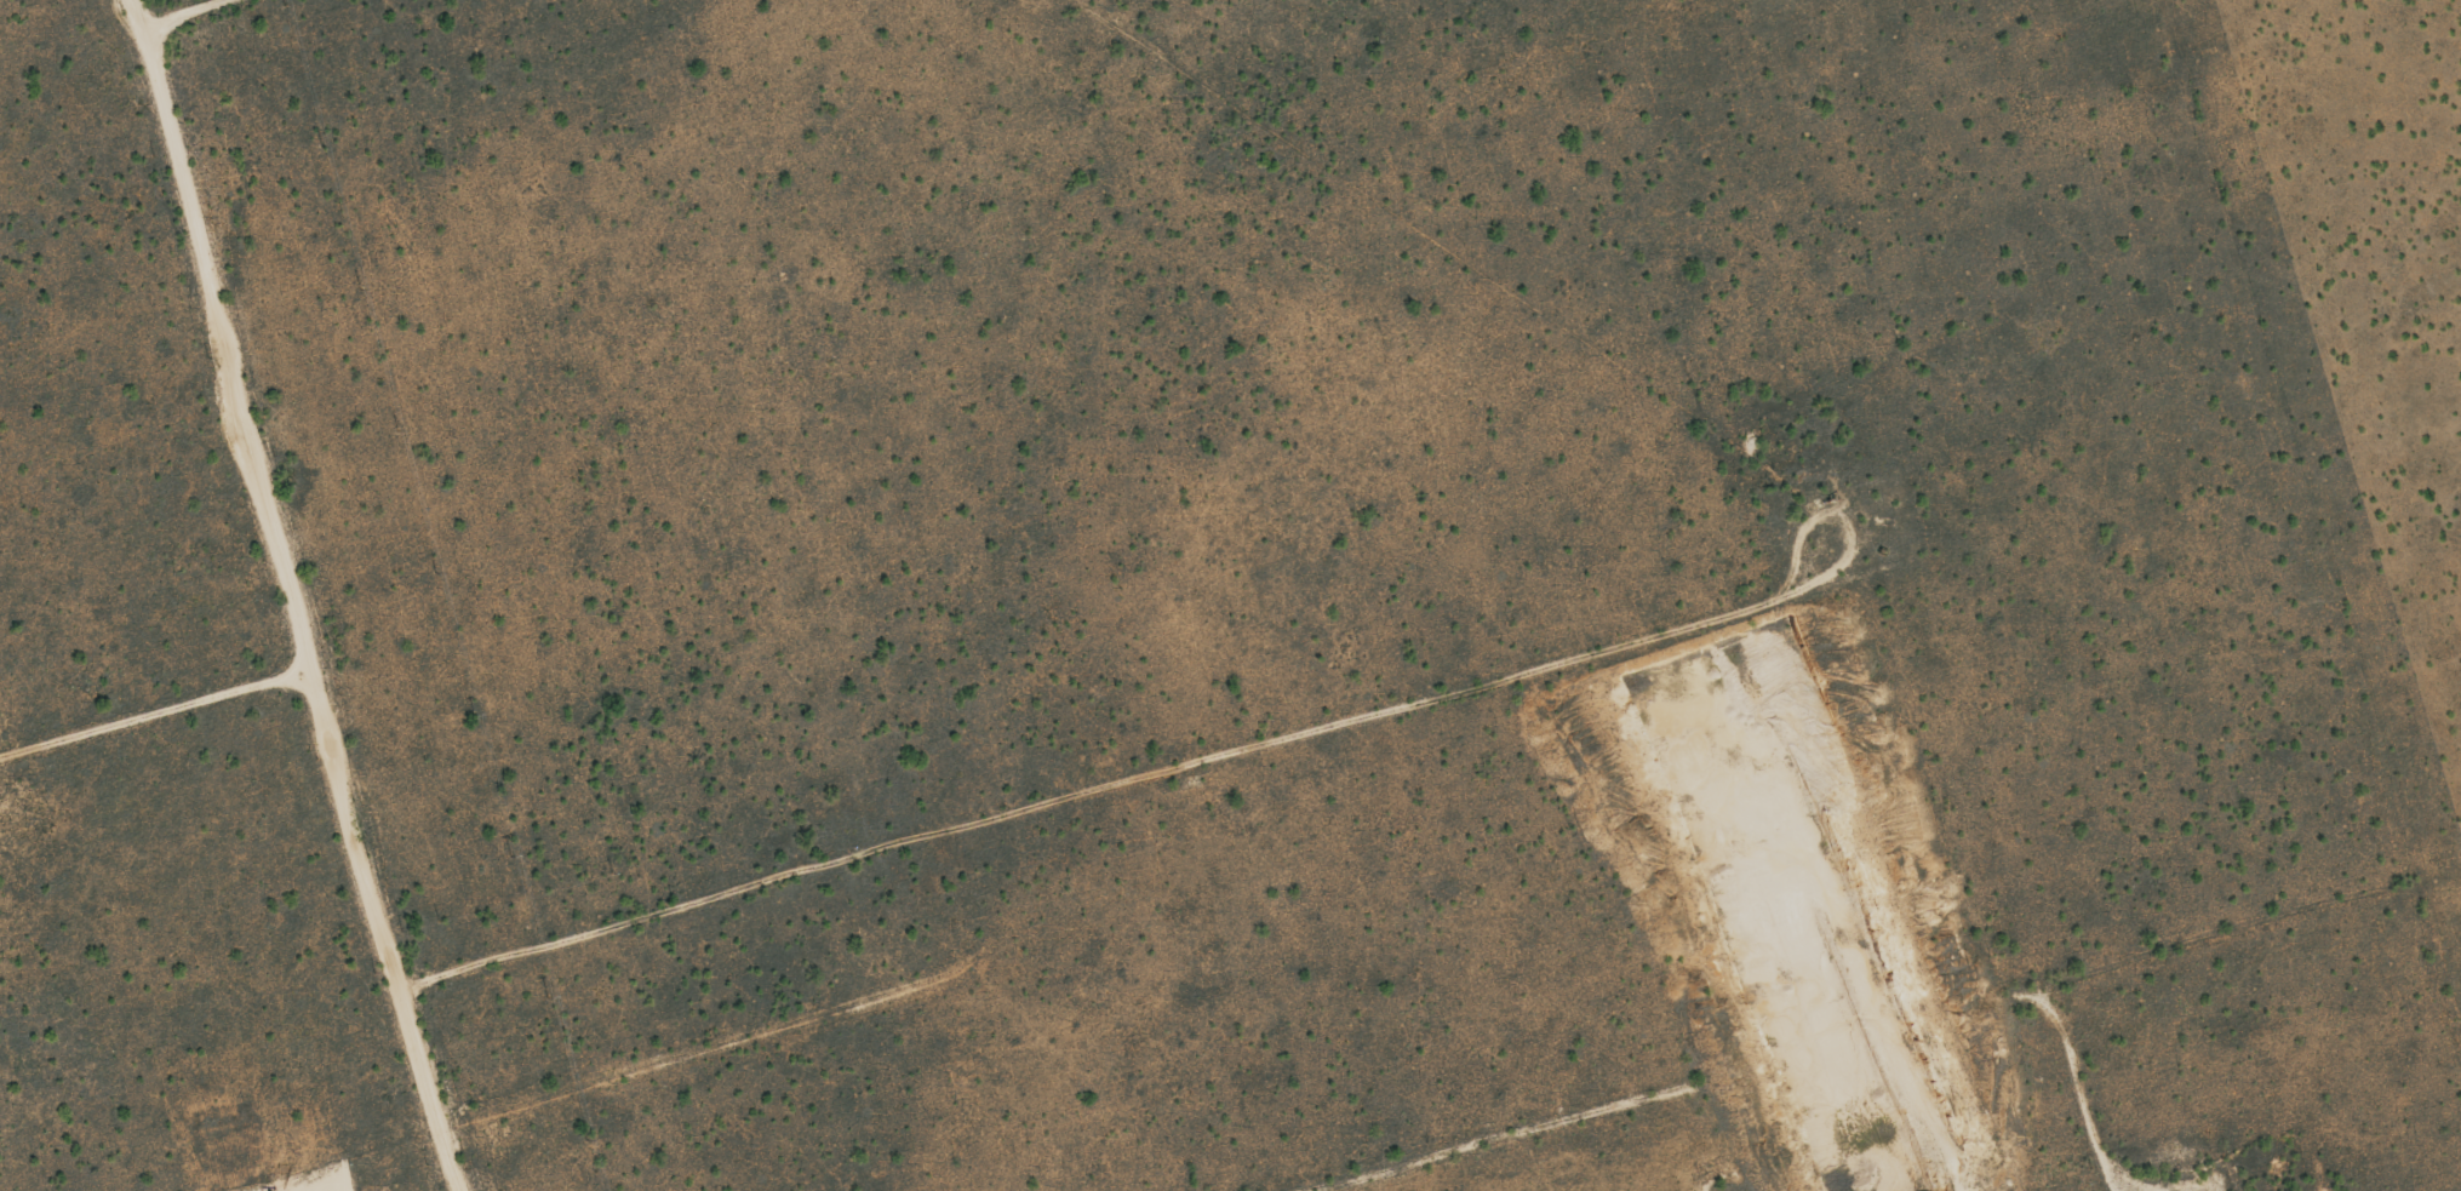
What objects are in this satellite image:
road: (290, 596)

